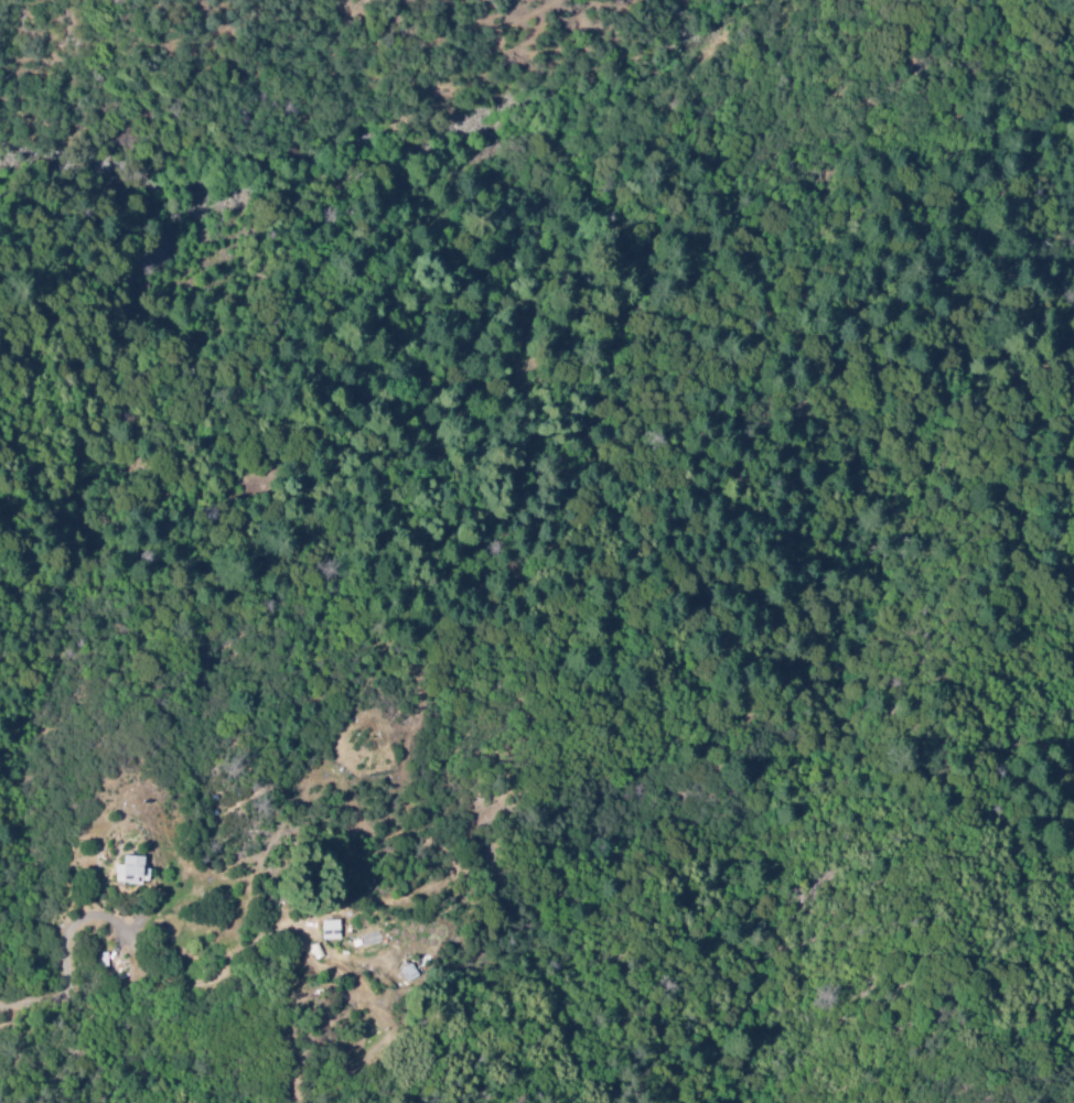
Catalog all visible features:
road: (848, 662)
building: (129, 872)
building: (329, 931)

